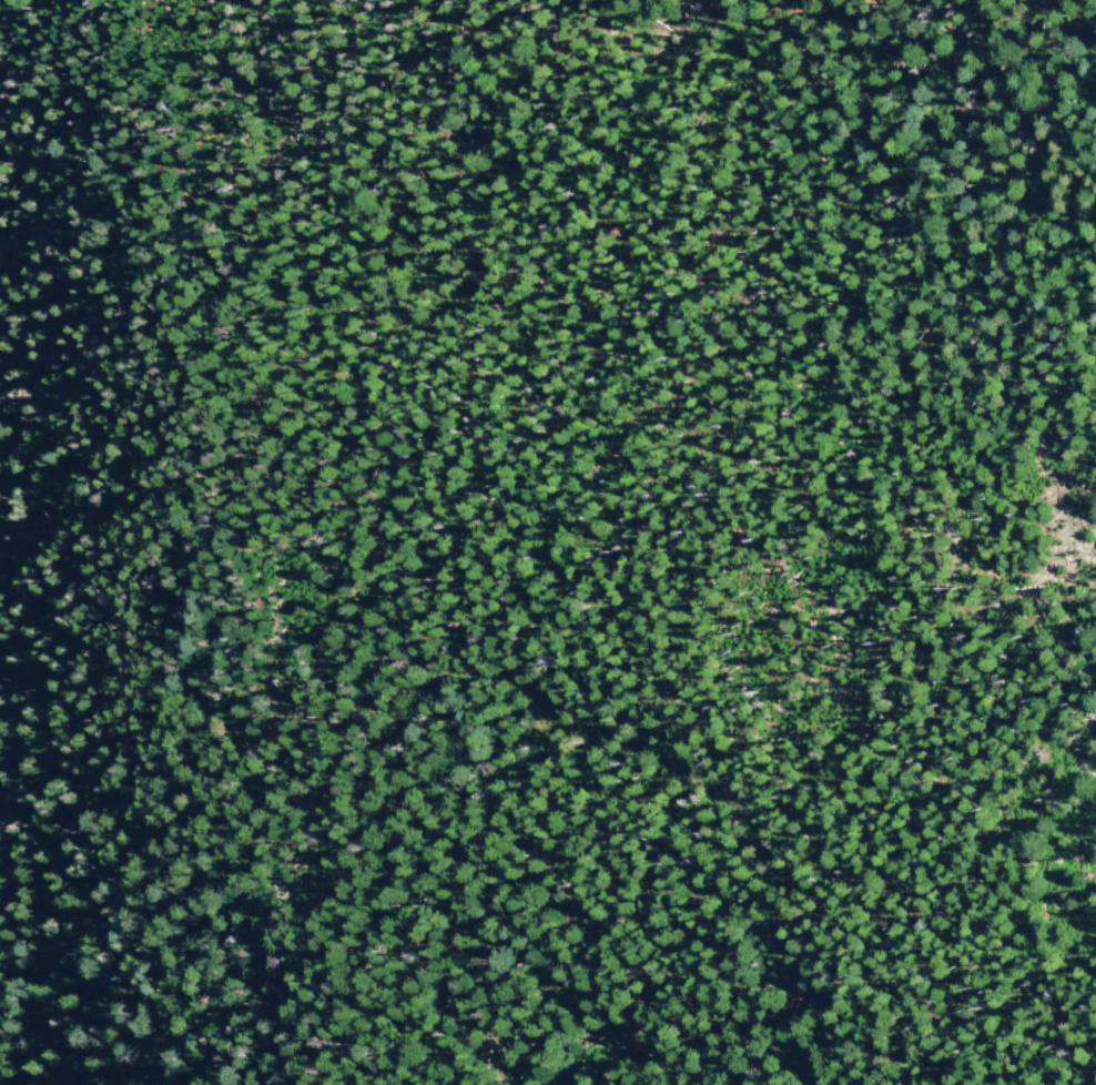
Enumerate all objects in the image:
road: (24, 103)

